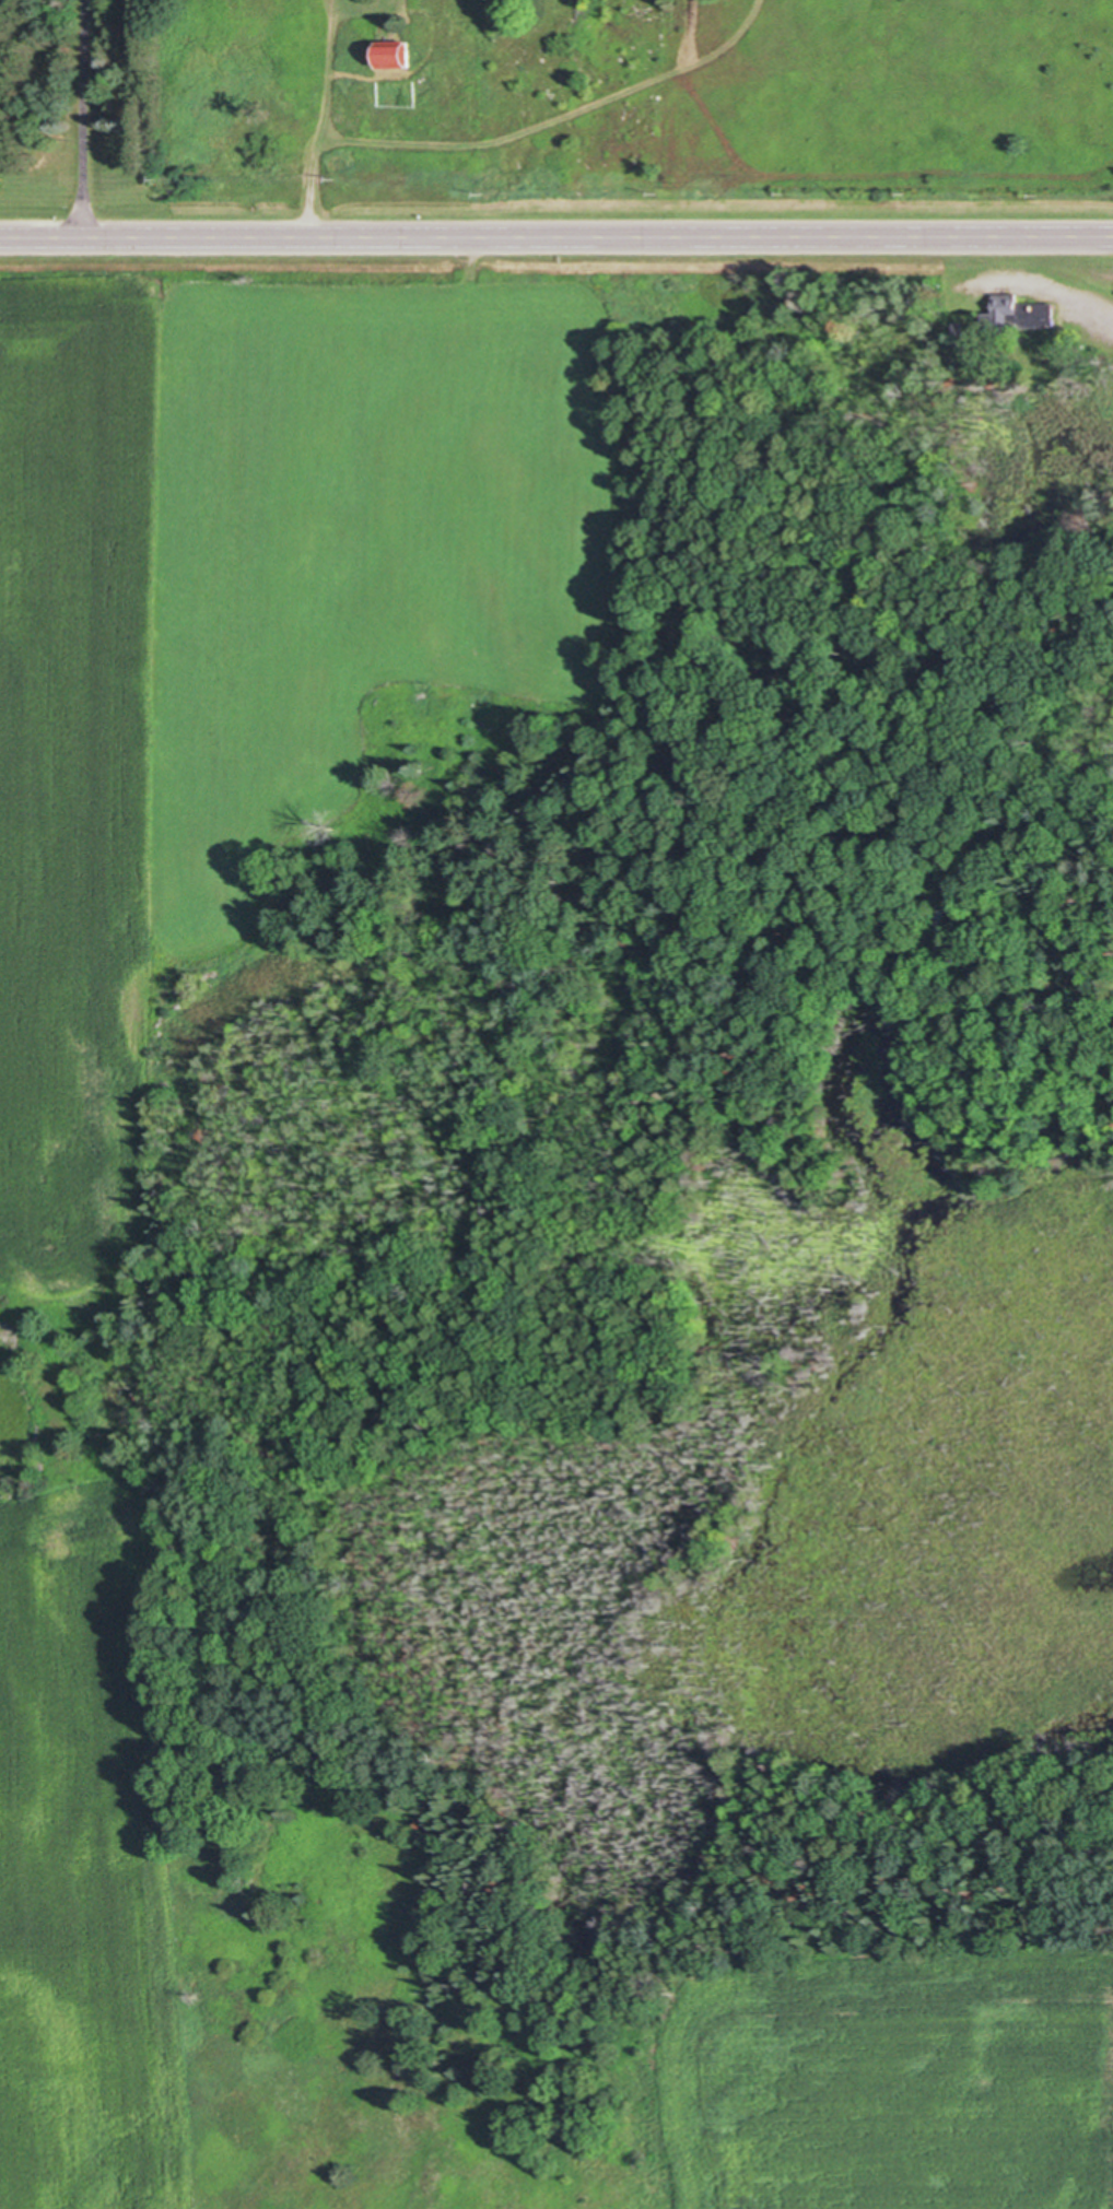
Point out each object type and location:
building: (386, 57)
road: (83, 119)
road: (308, 195)
road: (555, 237)
building: (1015, 315)
road: (1100, 316)

